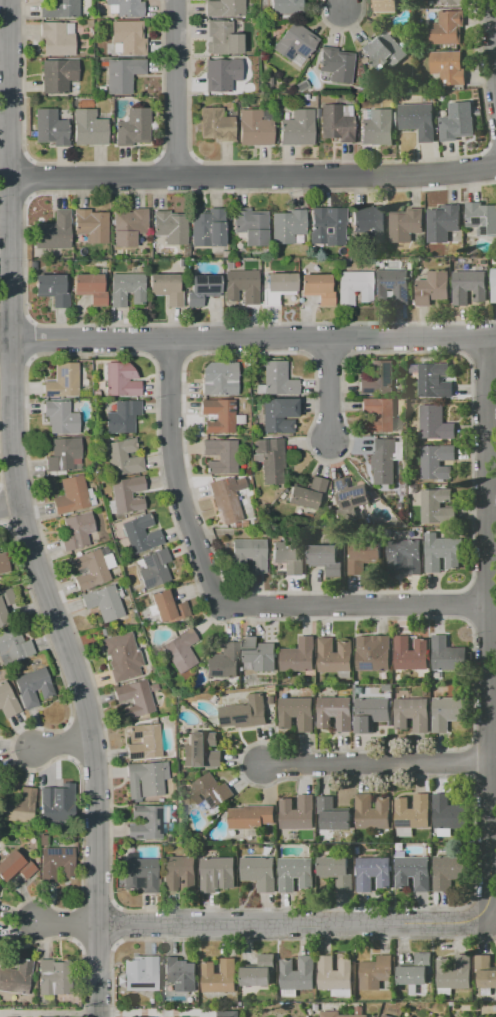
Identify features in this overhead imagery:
building: (451, 2)
building: (388, 5)
building: (286, 6)
building: (127, 7)
road: (348, 7)
building: (224, 8)
building: (59, 9)
building: (447, 27)
road: (494, 28)
building: (127, 36)
building: (223, 37)
building: (56, 39)
building: (295, 42)
building: (384, 49)
building: (335, 64)
building: (448, 66)
building: (221, 73)
building: (57, 75)
building: (122, 75)
road: (176, 89)
building: (418, 119)
building: (457, 121)
building: (336, 122)
building: (216, 124)
building: (51, 127)
building: (256, 127)
building: (296, 127)
building: (377, 127)
building: (88, 128)
building: (133, 128)
road: (254, 178)
building: (481, 217)
building: (370, 222)
building: (443, 222)
building: (406, 223)
building: (91, 225)
building: (251, 225)
building: (328, 225)
building: (130, 226)
building: (169, 226)
building: (287, 226)
building: (207, 227)
building: (53, 231)
building: (393, 285)
building: (494, 285)
building: (242, 286)
building: (353, 286)
building: (470, 286)
building: (165, 287)
building: (278, 287)
building: (317, 287)
building: (433, 287)
building: (90, 288)
building: (126, 288)
building: (201, 288)
building: (51, 289)
road: (253, 339)
road: (5, 340)
building: (378, 378)
building: (219, 379)
building: (278, 379)
building: (62, 380)
building: (120, 380)
building: (434, 380)
road: (329, 391)
building: (379, 413)
building: (277, 414)
building: (122, 416)
building: (218, 416)
building: (59, 417)
building: (435, 422)
building: (62, 454)
building: (220, 456)
building: (123, 458)
building: (270, 458)
building: (384, 459)
building: (437, 461)
road: (175, 477)
building: (126, 493)
building: (307, 493)
building: (349, 493)
building: (70, 495)
building: (225, 501)
road: (7, 506)
building: (438, 506)
road: (17, 514)
building: (76, 531)
building: (140, 533)
building: (289, 552)
building: (442, 553)
building: (249, 554)
building: (324, 554)
building: (364, 555)
building: (404, 556)
building: (3, 563)
building: (152, 568)
building: (88, 570)
building: (103, 602)
building: (4, 605)
building: (167, 606)
road: (353, 606)
road: (487, 631)
building: (13, 645)
building: (180, 650)
building: (259, 653)
building: (410, 653)
building: (447, 653)
building: (299, 655)
building: (335, 655)
building: (375, 655)
building: (121, 656)
building: (223, 661)
building: (32, 687)
building: (152, 687)
building: (386, 688)
building: (133, 698)
building: (6, 701)
building: (246, 712)
building: (297, 712)
building: (335, 712)
building: (448, 712)
building: (370, 713)
building: (412, 714)
building: (142, 742)
road: (62, 745)
building: (201, 750)
road: (377, 763)
building: (145, 778)
building: (211, 790)
building: (55, 803)
building: (17, 806)
building: (372, 811)
building: (447, 811)
building: (298, 812)
building: (333, 813)
building: (412, 813)
building: (251, 816)
building: (144, 822)
building: (55, 862)
building: (14, 866)
building: (337, 870)
building: (448, 870)
building: (178, 871)
building: (260, 872)
building: (373, 872)
building: (413, 872)
building: (139, 873)
building: (217, 873)
building: (296, 873)
road: (65, 924)
road: (293, 924)
building: (152, 946)
building: (424, 956)
building: (486, 970)
building: (260, 971)
building: (376, 971)
building: (298, 972)
building: (180, 973)
building: (335, 973)
building: (15, 974)
building: (140, 974)
building: (454, 974)
building: (220, 976)
building: (52, 977)
building: (414, 978)
road: (151, 1012)
building: (331, 1012)
road: (47, 1013)
building: (228, 1013)
building: (63, 1016)
building: (183, 1016)
building: (291, 1016)
building: (385, 1016)

